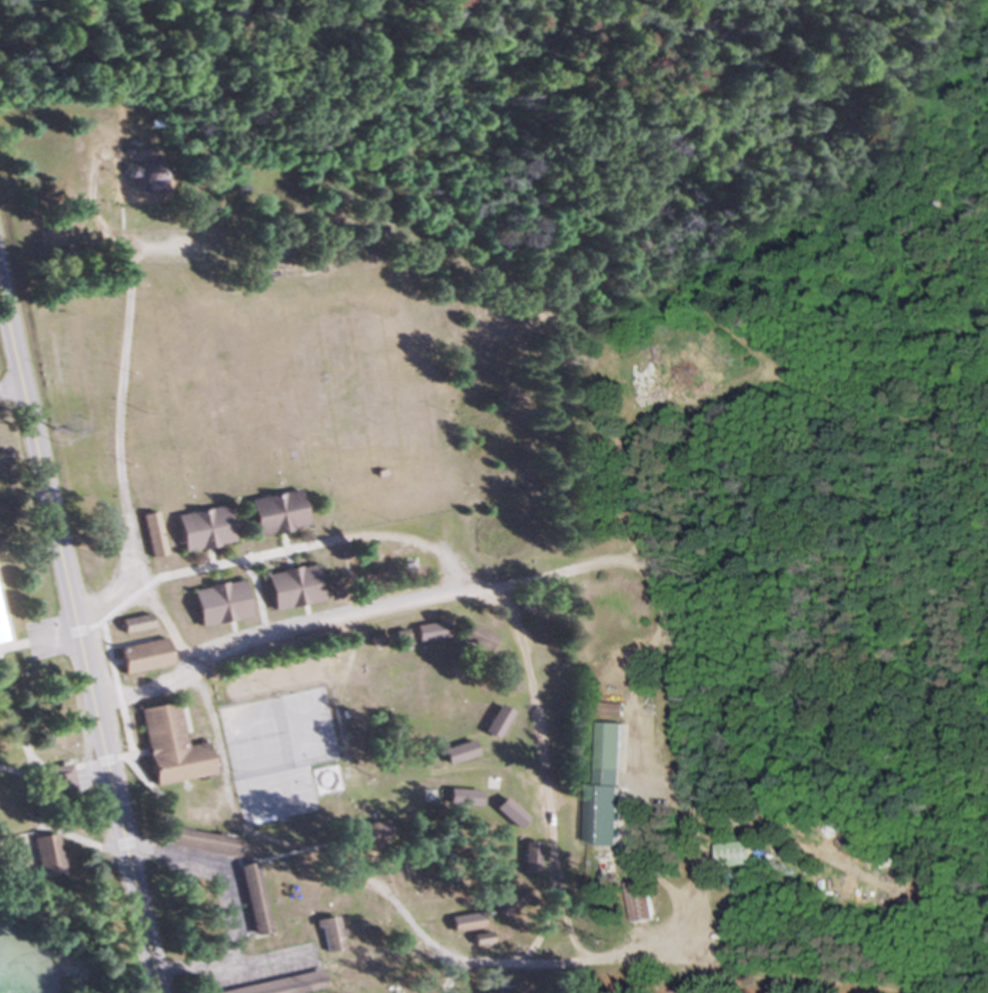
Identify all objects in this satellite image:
river: (545, 9)
river: (394, 15)
river: (133, 42)
river: (848, 132)
building: (146, 178)
road: (9, 384)
road: (126, 413)
building: (274, 512)
building: (201, 528)
building: (151, 534)
road: (641, 572)
building: (290, 586)
building: (217, 602)
building: (133, 623)
building: (428, 630)
road: (35, 637)
road: (271, 637)
building: (474, 637)
building: (0, 641)
road: (76, 646)
building: (140, 655)
building: (507, 681)
building: (611, 709)
building: (495, 720)
building: (608, 745)
building: (171, 746)
building: (458, 751)
road: (542, 766)
building: (57, 779)
building: (462, 797)
building: (508, 811)
building: (368, 833)
building: (200, 841)
building: (603, 852)
building: (44, 853)
building: (733, 854)
road: (298, 856)
building: (528, 857)
building: (890, 867)
building: (250, 898)
building: (637, 900)
building: (509, 902)
road: (225, 904)
road: (563, 915)
building: (464, 921)
building: (327, 933)
building: (479, 938)
road: (442, 975)
building: (278, 984)

